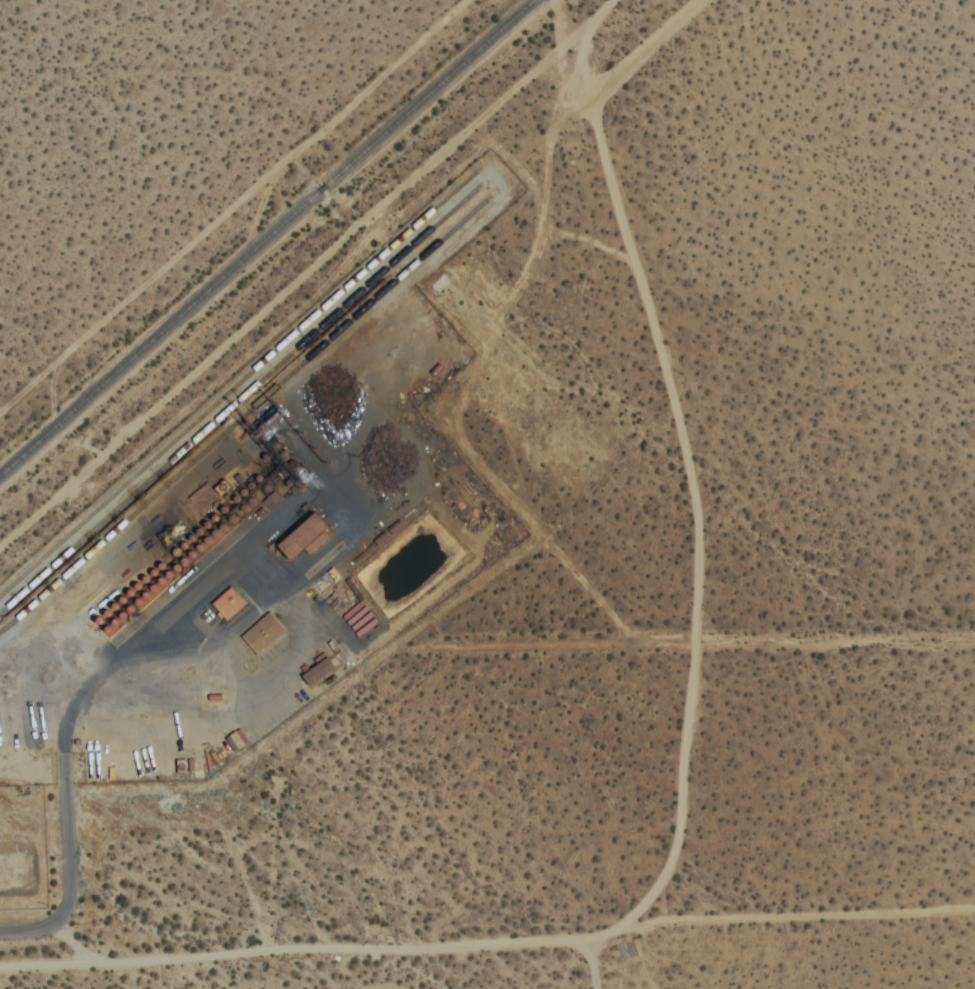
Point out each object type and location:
railway: (268, 238)
railway: (188, 447)
railway: (194, 461)
building: (297, 536)
building: (226, 604)
building: (261, 634)
building: (314, 671)
road: (67, 869)
road: (488, 942)
road: (77, 945)
road: (589, 963)

